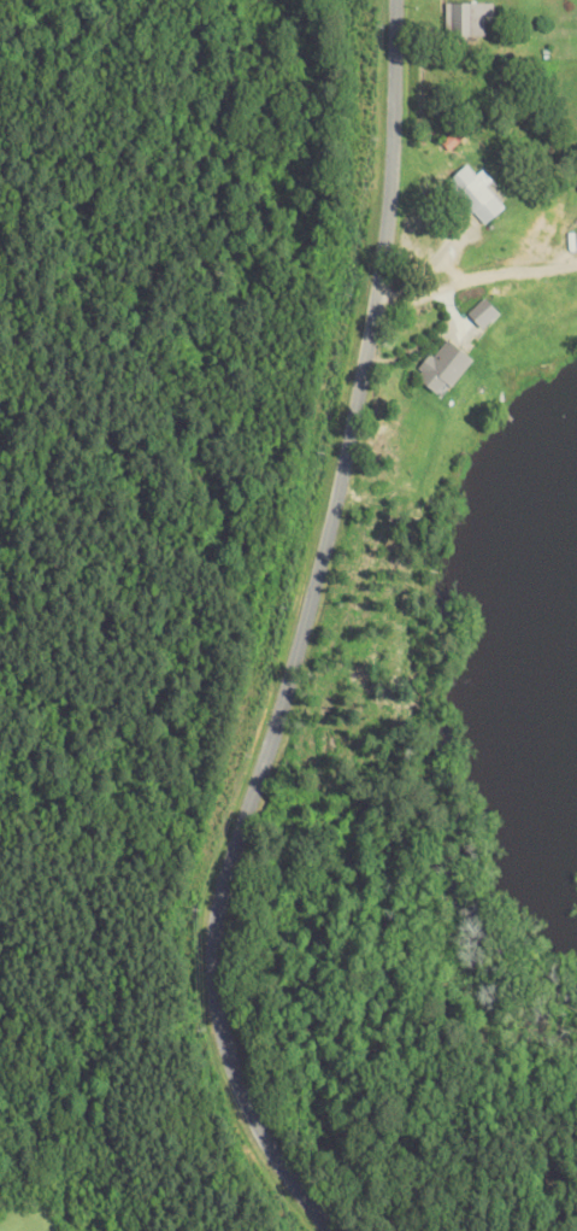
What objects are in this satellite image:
building: (470, 20)
building: (482, 195)
road: (472, 281)
building: (446, 368)
road: (300, 633)

